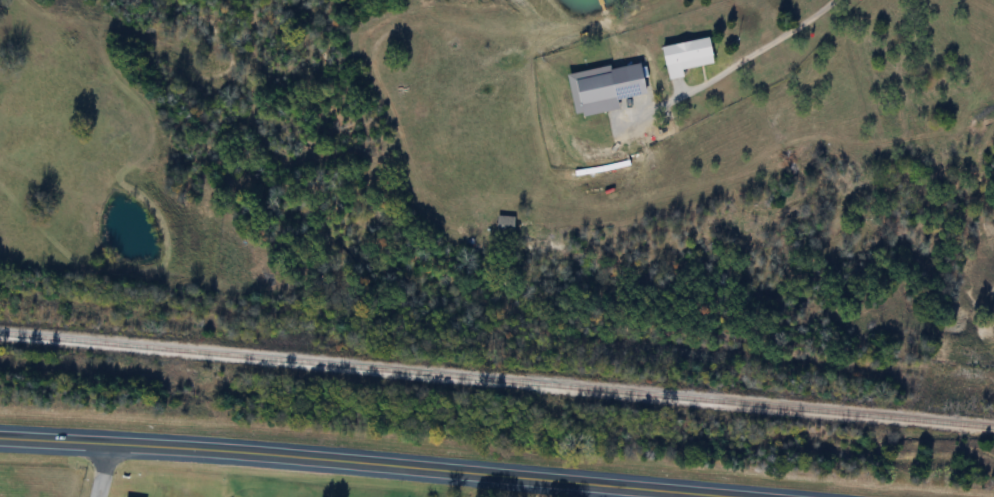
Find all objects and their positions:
building: (686, 56)
road: (739, 59)
building: (637, 82)
building: (595, 94)
railway: (496, 375)
road: (363, 463)
road: (102, 471)

